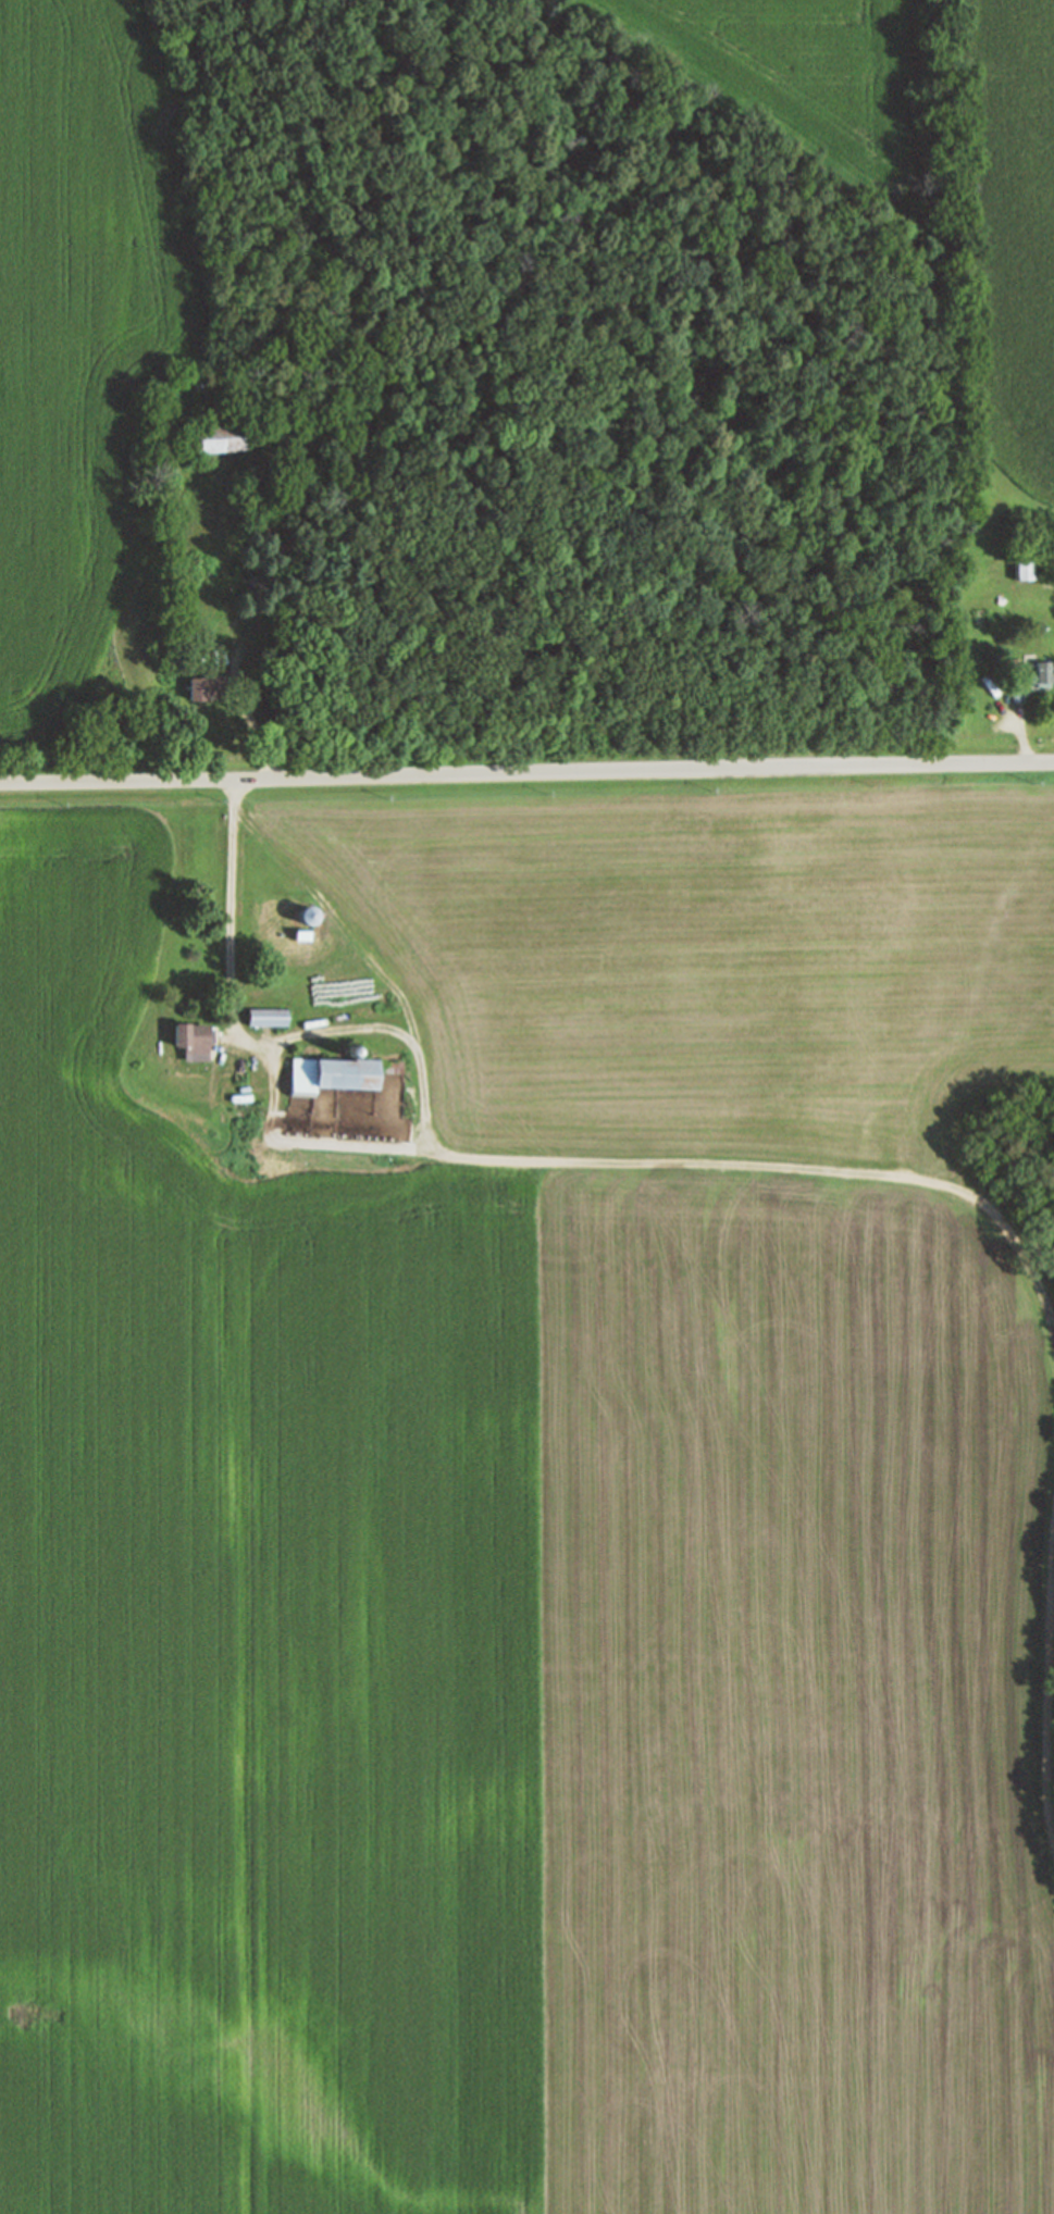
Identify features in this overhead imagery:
building: (216, 438)
building: (264, 524)
building: (1026, 568)
building: (256, 572)
road: (238, 624)
building: (1040, 674)
building: (203, 685)
road: (1024, 723)
road: (526, 773)
building: (962, 868)
building: (303, 916)
road: (233, 926)
building: (300, 936)
building: (266, 1017)
building: (190, 1041)
road: (271, 1054)
building: (327, 1074)
road: (781, 1176)

